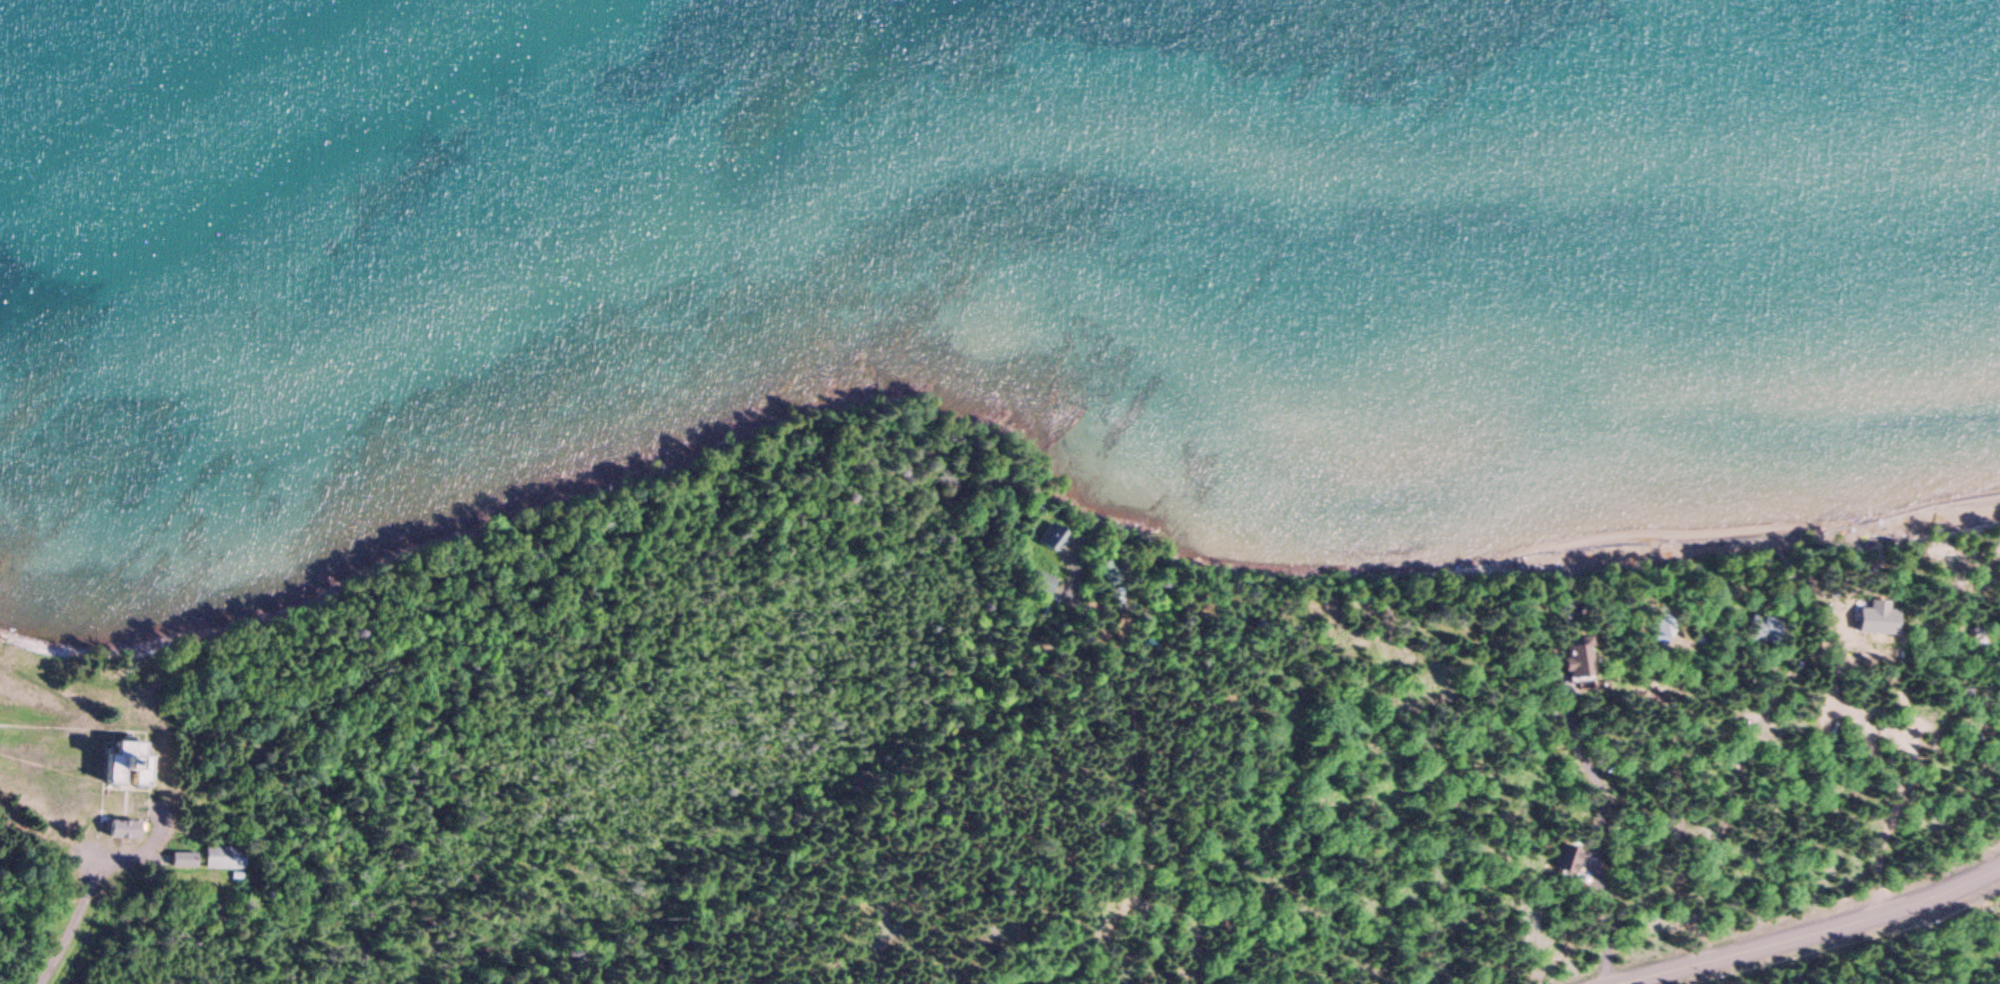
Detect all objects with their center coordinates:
building: (124, 764)
building: (122, 829)
building: (223, 857)
building: (184, 863)
building: (234, 875)
road: (72, 920)
road: (1802, 930)

